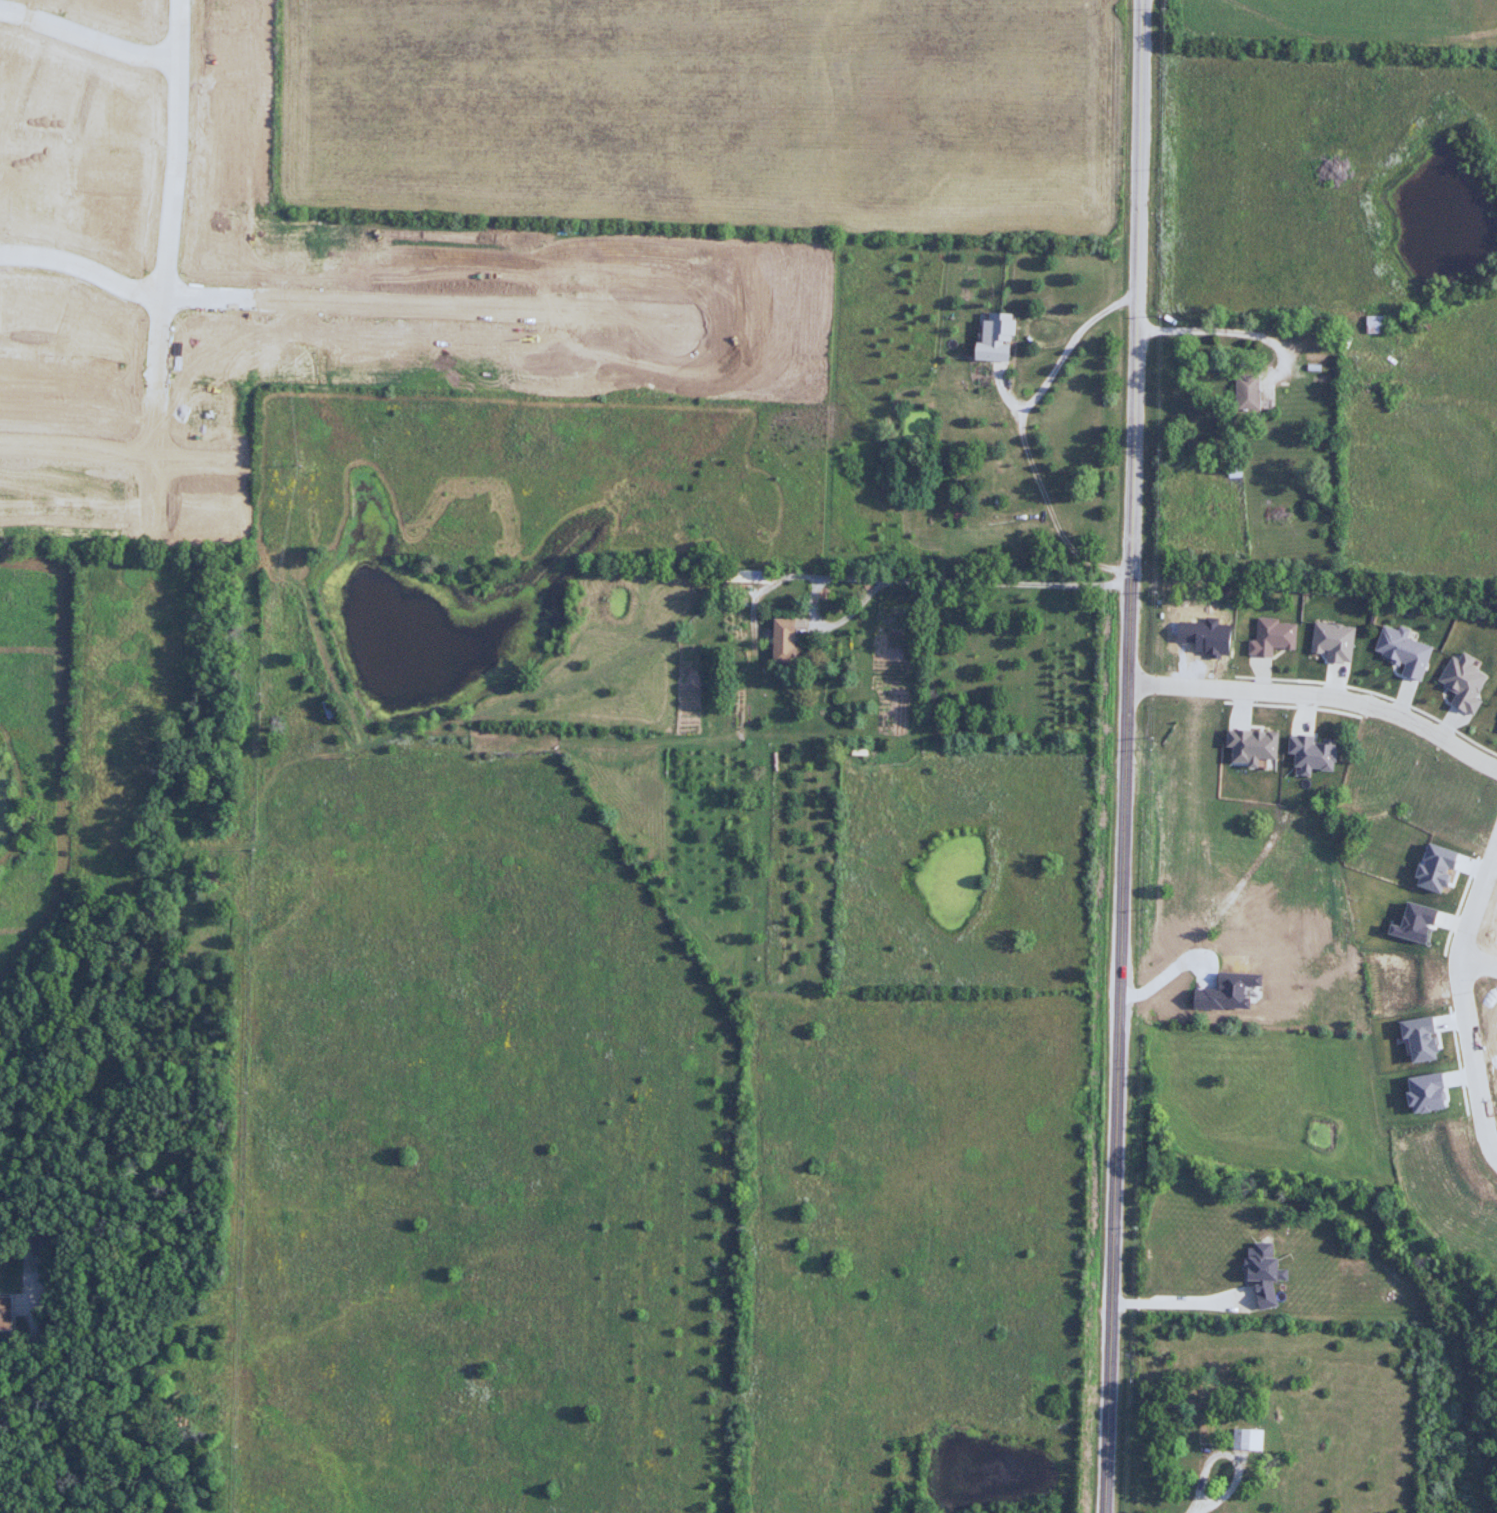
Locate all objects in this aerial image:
road: (87, 46)
building: (8, 70)
building: (114, 172)
building: (226, 184)
building: (31, 210)
building: (113, 229)
road: (160, 265)
road: (1132, 289)
road: (330, 310)
building: (1374, 324)
road: (1218, 328)
building: (989, 338)
building: (1242, 393)
road: (1020, 436)
road: (119, 463)
building: (1232, 470)
road: (1315, 589)
building: (779, 640)
road: (1319, 697)
building: (1310, 756)
building: (1242, 801)
road: (1477, 958)
road: (1465, 1001)
road: (1117, 1045)
building: (39, 1243)
road: (1174, 1303)
building: (6, 1313)
road: (35, 1406)
building: (1247, 1439)

